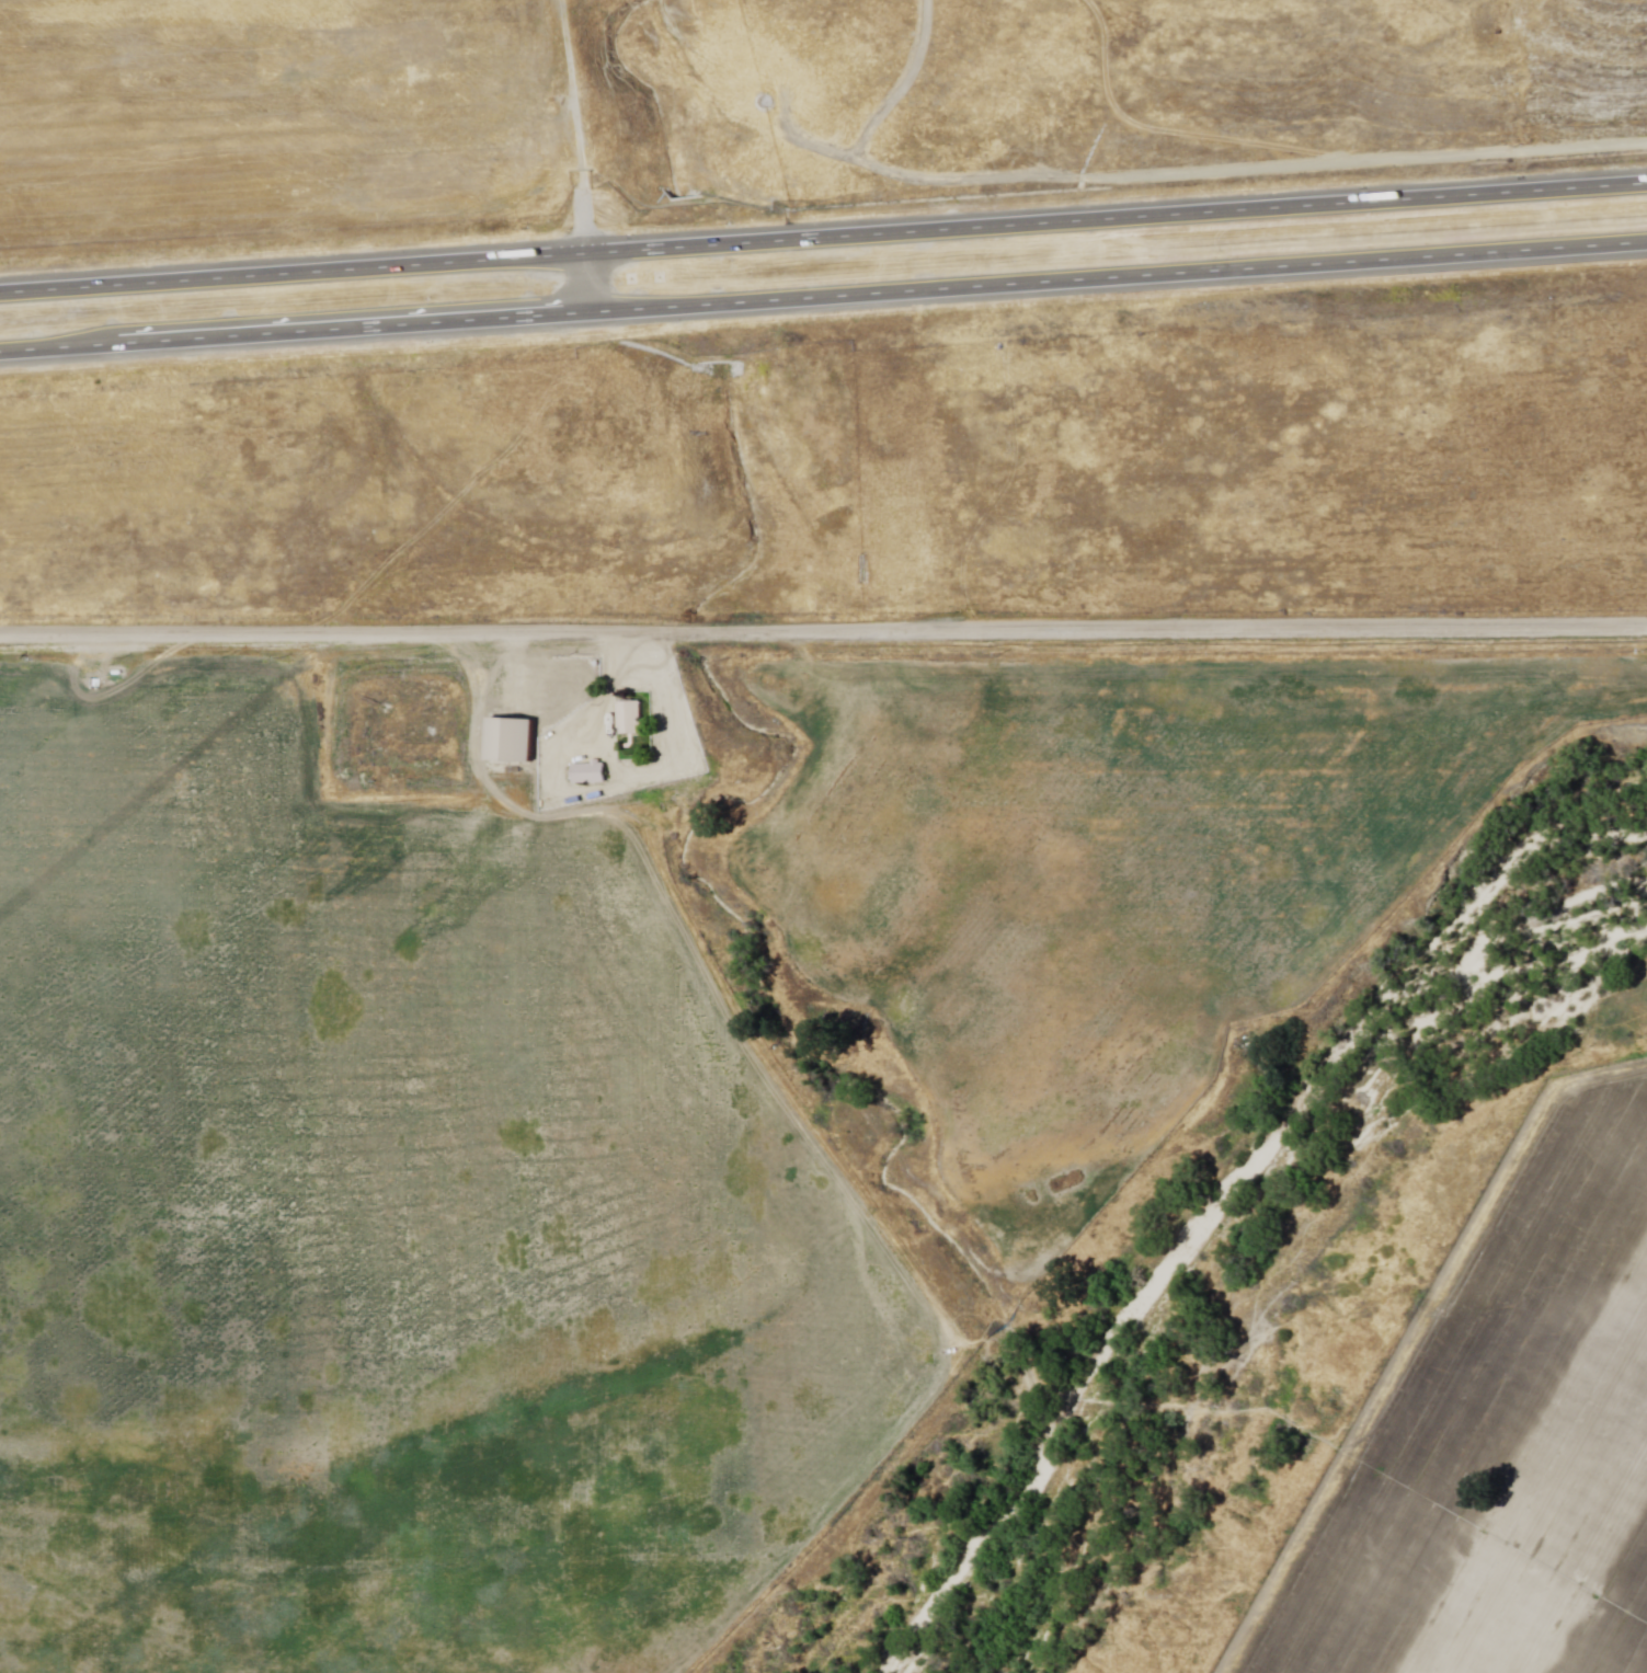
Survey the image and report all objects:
road: (1495, 62)
road: (572, 125)
road: (823, 237)
road: (591, 283)
road: (823, 298)
road: (823, 634)
building: (631, 720)
building: (508, 743)
building: (591, 772)
river: (1387, 1185)
crop: (378, 1214)
river: (1011, 1561)

